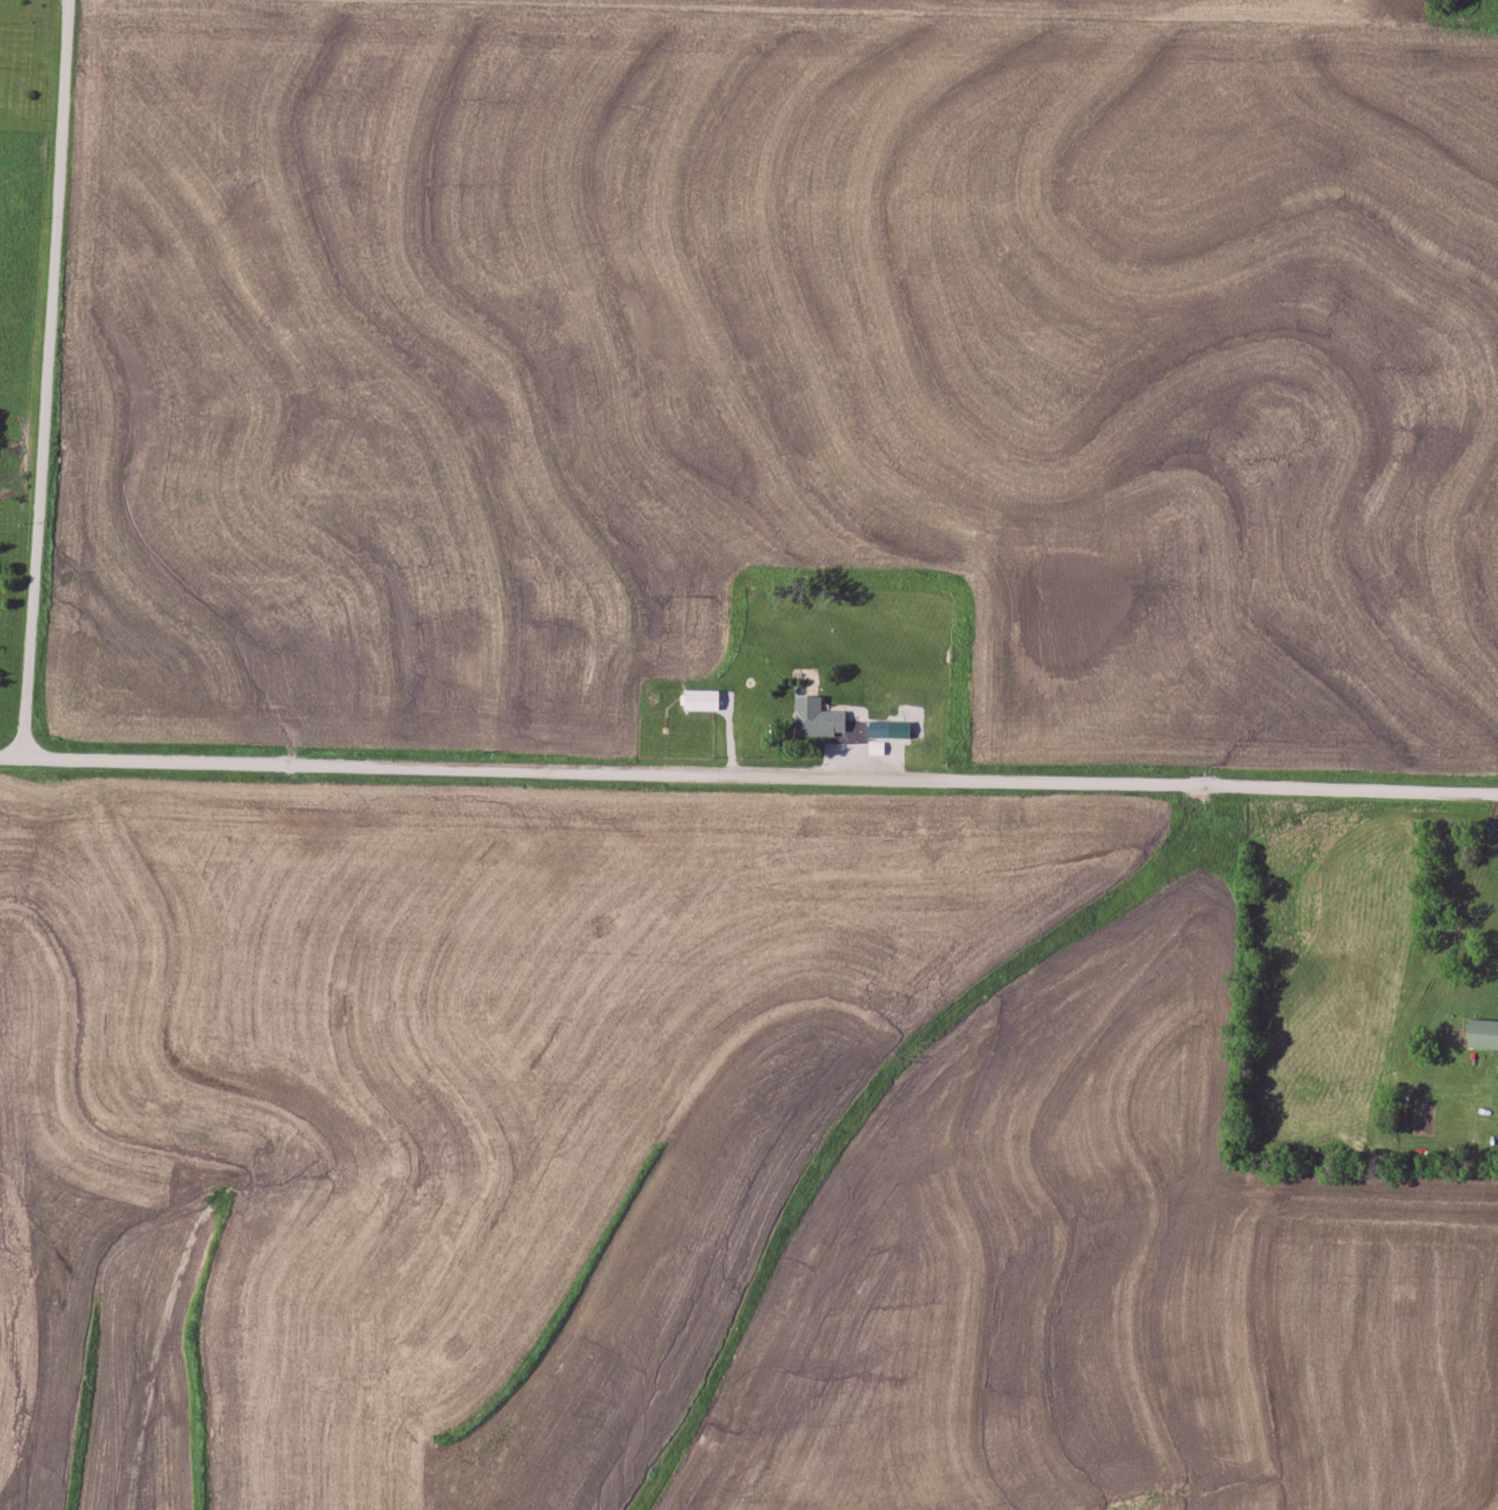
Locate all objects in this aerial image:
road: (47, 381)
building: (702, 700)
building: (816, 721)
building: (876, 748)
road: (748, 778)
building: (1483, 1034)

